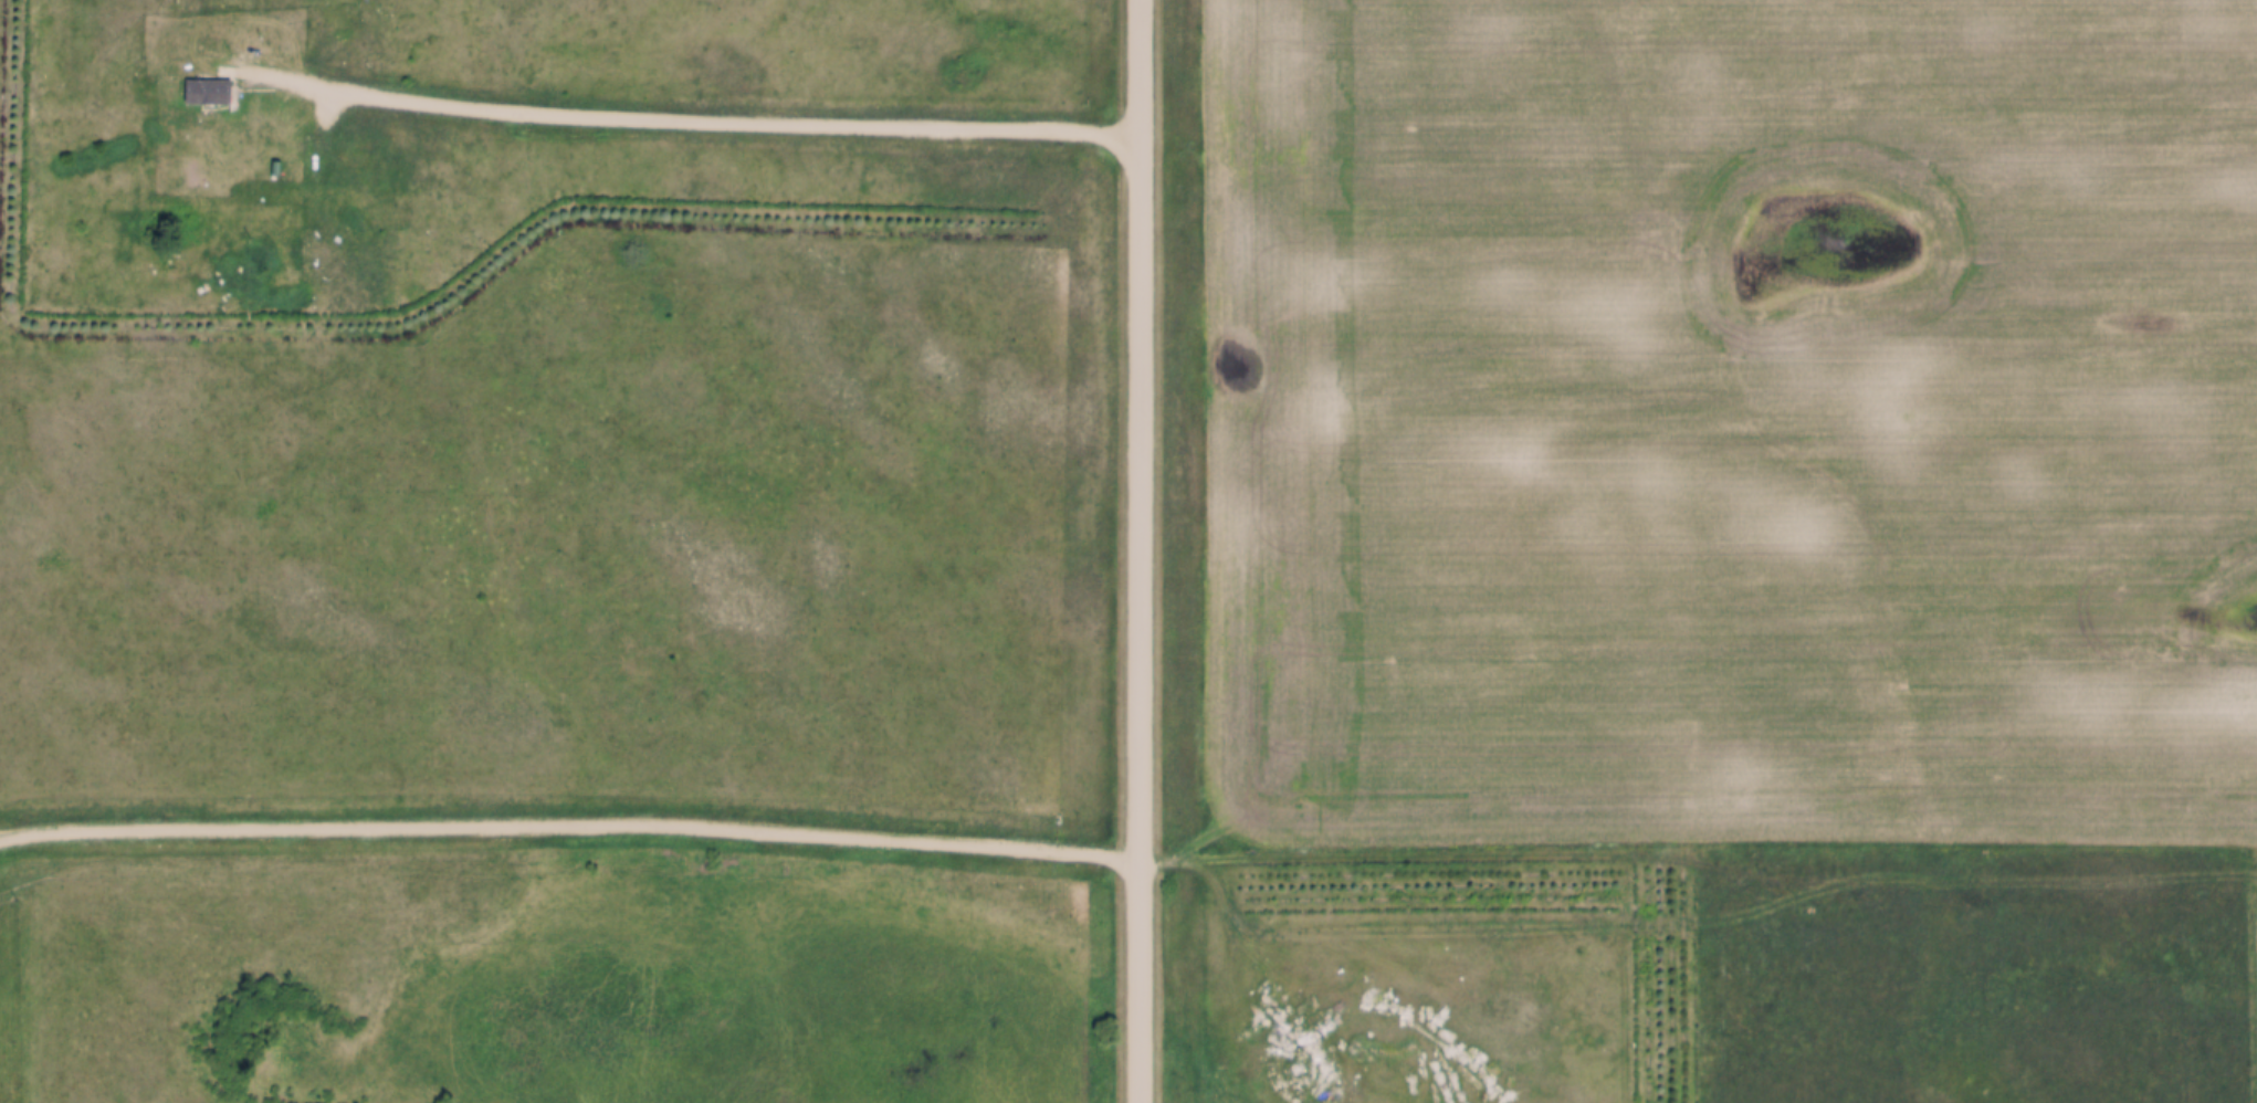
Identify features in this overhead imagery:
building: (199, 80)
building: (202, 92)
road: (704, 119)
road: (1140, 551)
road: (570, 824)

